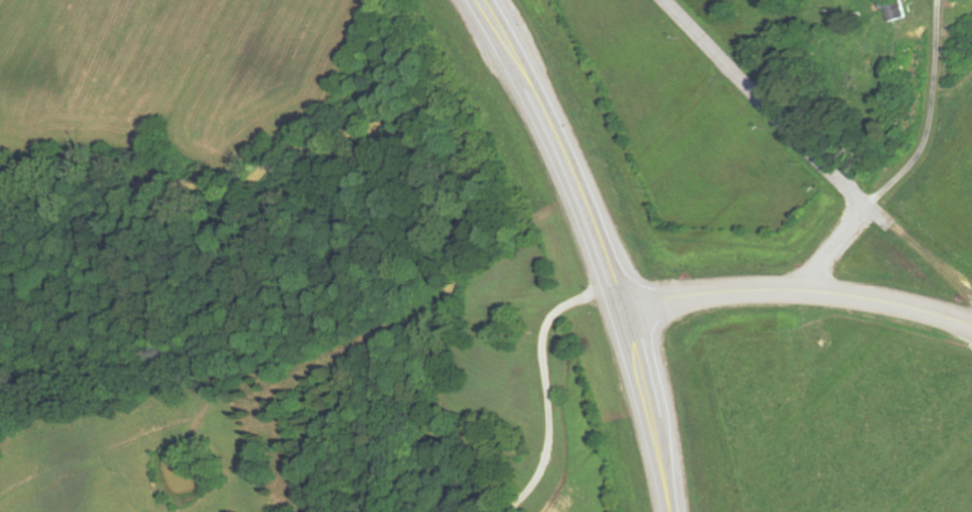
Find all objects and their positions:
building: (895, 10)
road: (795, 139)
road: (550, 149)
road: (928, 155)
road: (793, 289)
road: (644, 408)

